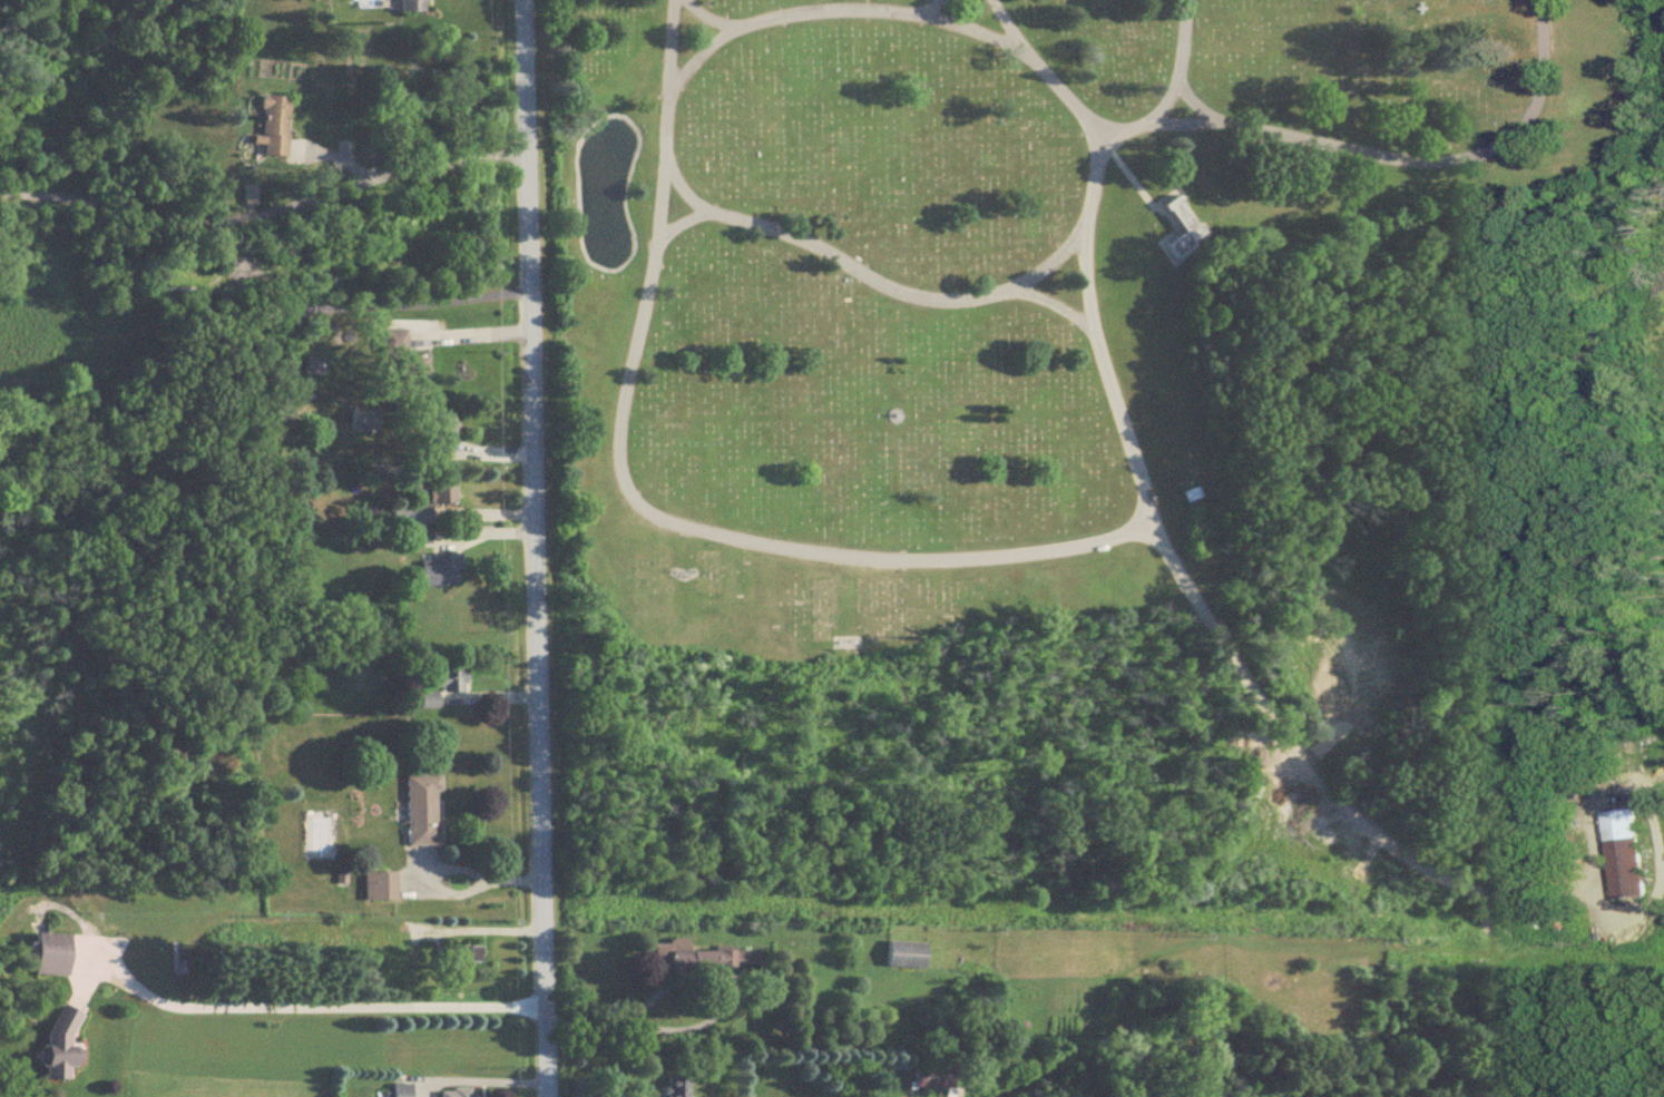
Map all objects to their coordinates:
building: (414, 6)
road: (921, 6)
road: (893, 9)
road: (709, 16)
road: (1000, 22)
road: (1191, 100)
building: (277, 126)
road: (1402, 156)
road: (1130, 182)
road: (266, 214)
road: (679, 225)
building: (1175, 226)
road: (919, 300)
road: (1055, 303)
road: (362, 306)
road: (474, 335)
building: (403, 364)
building: (366, 421)
building: (442, 435)
park: (1060, 463)
building: (1188, 491)
building: (412, 515)
road: (721, 529)
building: (421, 538)
road: (540, 548)
building: (443, 571)
road: (1220, 630)
building: (451, 680)
building: (430, 702)
road: (1613, 802)
building: (425, 812)
building: (1623, 854)
building: (382, 889)
road: (1564, 893)
road: (448, 894)
road: (1628, 914)
building: (55, 956)
building: (908, 957)
building: (464, 959)
building: (701, 960)
road: (679, 983)
road: (323, 1007)
building: (63, 1047)
building: (936, 1077)
building: (681, 1087)
building: (404, 1090)
building: (459, 1093)

